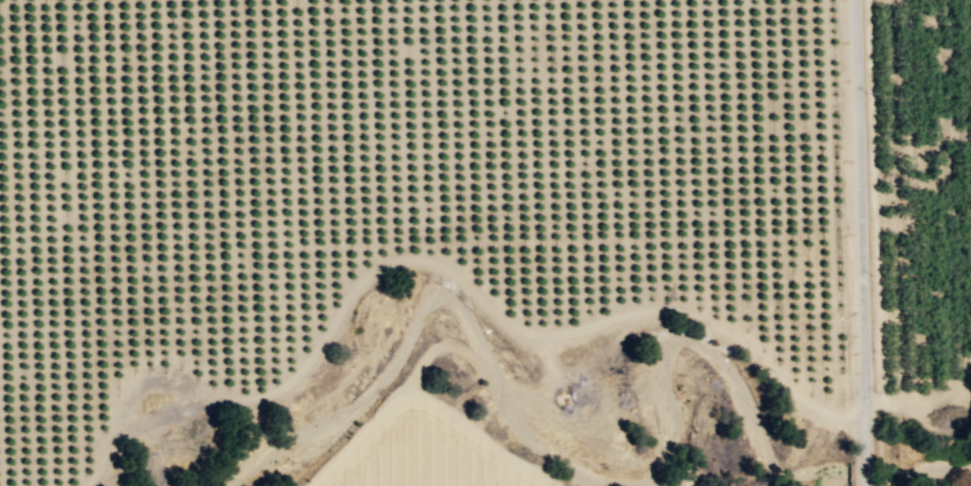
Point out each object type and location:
road: (855, 243)
road: (437, 264)
road: (433, 350)
road: (918, 398)

